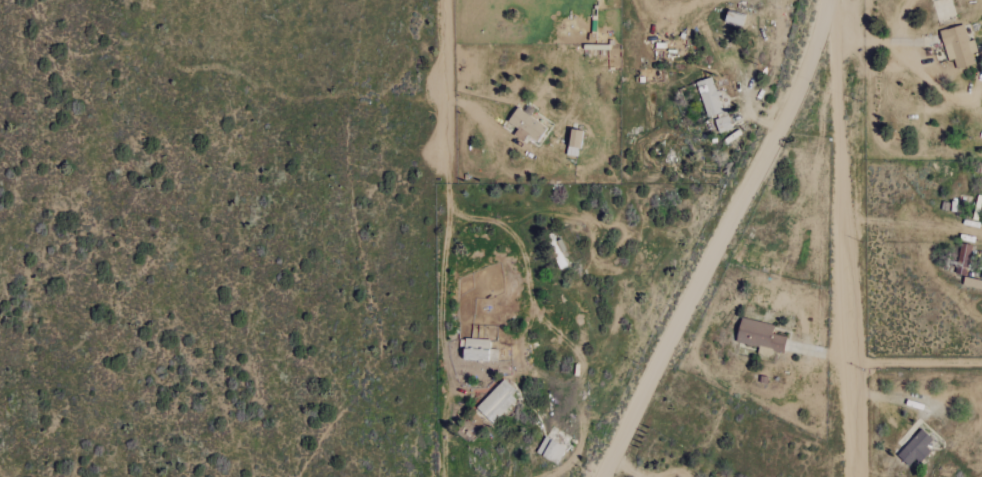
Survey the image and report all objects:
building: (733, 17)
road: (879, 40)
building: (958, 46)
road: (445, 85)
building: (708, 96)
building: (722, 124)
building: (526, 125)
road: (912, 221)
road: (720, 240)
road: (844, 242)
road: (443, 276)
building: (972, 283)
building: (759, 335)
building: (476, 349)
road: (915, 362)
building: (496, 402)
building: (915, 448)
building: (550, 450)

